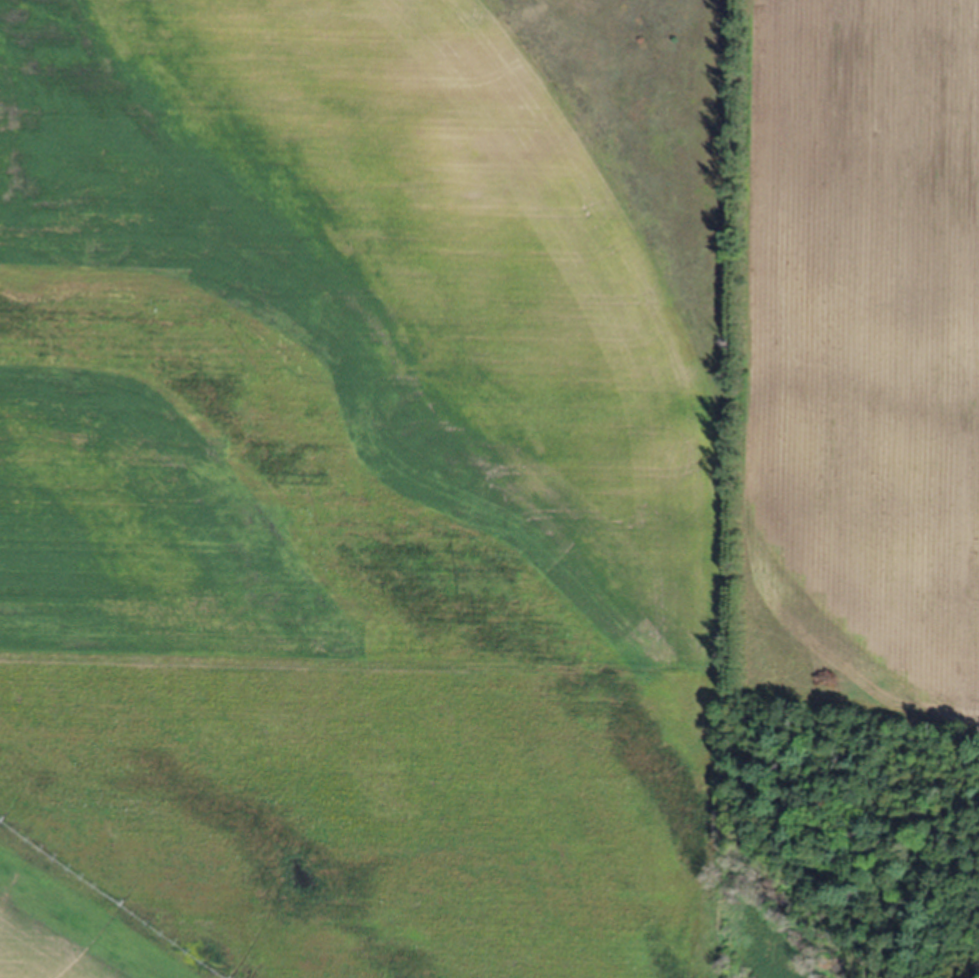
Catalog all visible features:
crop: (461, 461)

